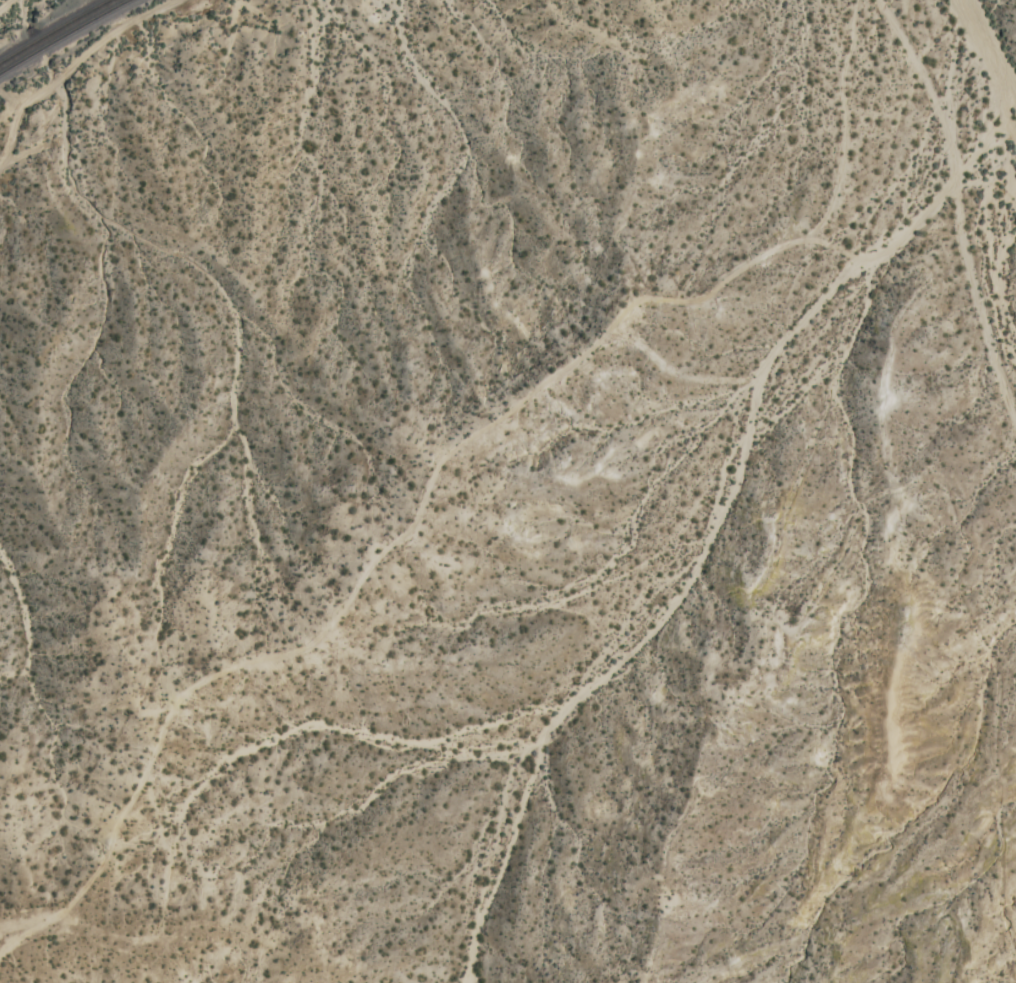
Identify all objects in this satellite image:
road: (0, 0)
railway: (53, 29)
railway: (62, 35)

